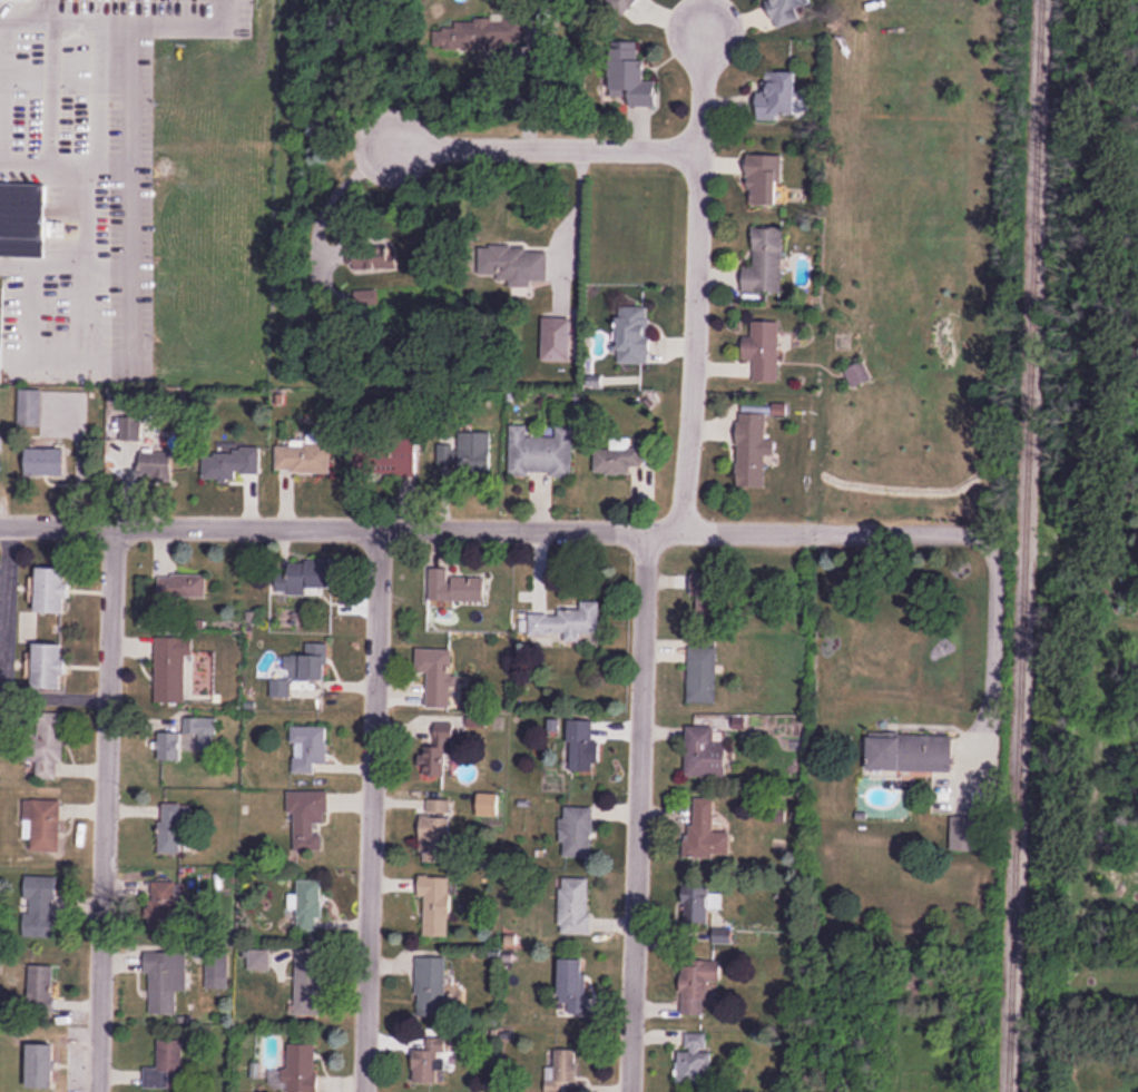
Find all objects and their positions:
building: (17, 0)
building: (622, 4)
building: (786, 9)
building: (470, 36)
building: (631, 76)
building: (781, 95)
road: (539, 148)
building: (764, 179)
road: (87, 211)
building: (22, 219)
building: (765, 262)
building: (520, 266)
road: (693, 274)
building: (634, 335)
building: (556, 340)
building: (763, 351)
building: (29, 407)
building: (130, 429)
building: (753, 451)
building: (474, 452)
building: (447, 453)
building: (540, 453)
building: (303, 459)
building: (391, 460)
building: (617, 461)
building: (46, 462)
building: (232, 462)
building: (156, 465)
road: (468, 525)
railway: (1021, 545)
building: (304, 578)
road: (994, 578)
building: (182, 586)
building: (52, 590)
building: (469, 590)
building: (708, 598)
building: (568, 622)
building: (26, 627)
building: (314, 661)
building: (49, 666)
building: (171, 669)
building: (439, 672)
building: (702, 676)
building: (205, 735)
building: (46, 746)
building: (170, 746)
building: (581, 746)
building: (308, 748)
building: (911, 752)
building: (436, 754)
building: (705, 754)
road: (107, 808)
road: (372, 808)
road: (637, 809)
building: (307, 818)
building: (42, 825)
building: (173, 827)
building: (435, 827)
building: (706, 830)
building: (577, 832)
building: (963, 836)
building: (696, 904)
building: (163, 905)
building: (435, 905)
building: (575, 905)
building: (306, 906)
building: (40, 907)
building: (217, 970)
building: (164, 981)
building: (697, 984)
building: (430, 986)
building: (572, 987)
building: (41, 988)
building: (304, 990)
building: (694, 1060)
building: (429, 1063)
building: (165, 1065)
building: (41, 1066)
building: (301, 1069)
building: (562, 1072)

